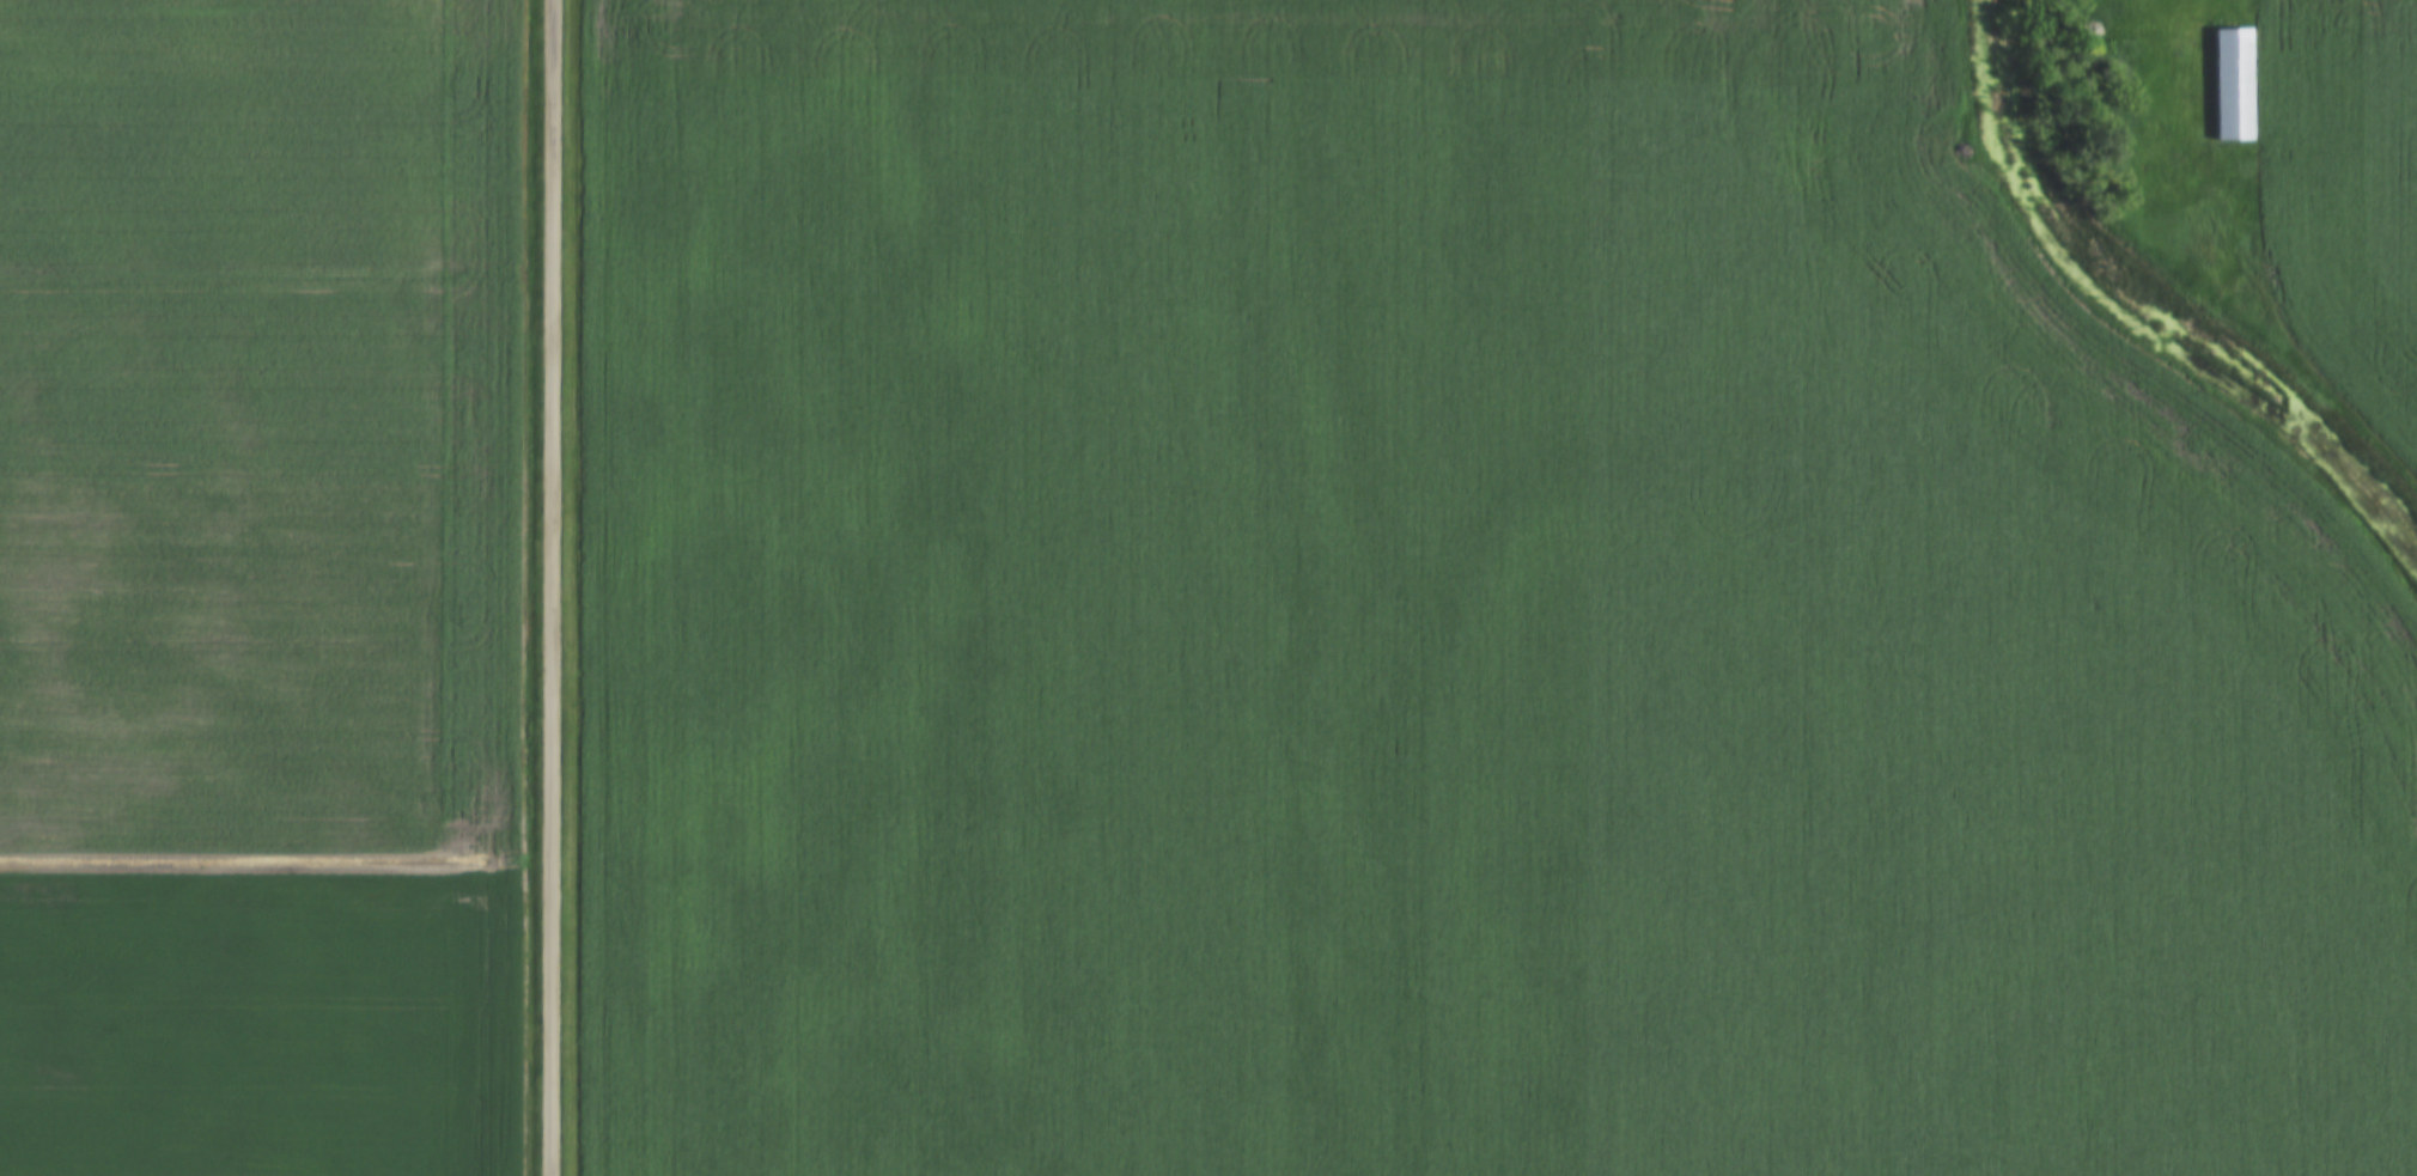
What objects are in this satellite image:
road: (550, 587)

